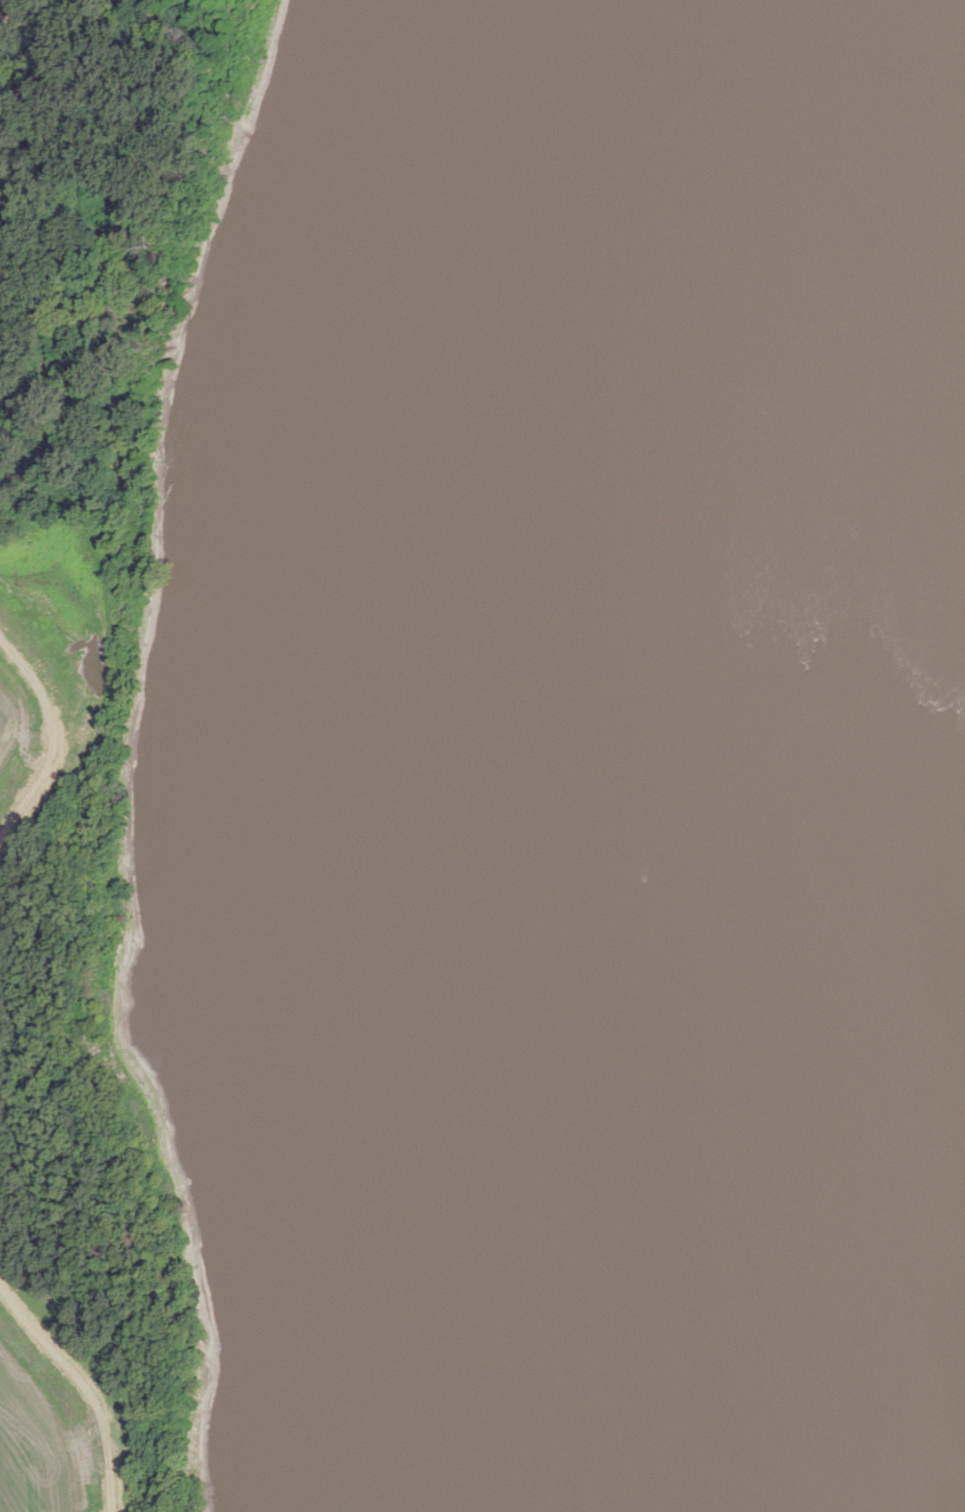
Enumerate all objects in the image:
crop: (7, 724)
road: (52, 736)
river: (594, 756)
road: (86, 1383)
crop: (35, 1448)

